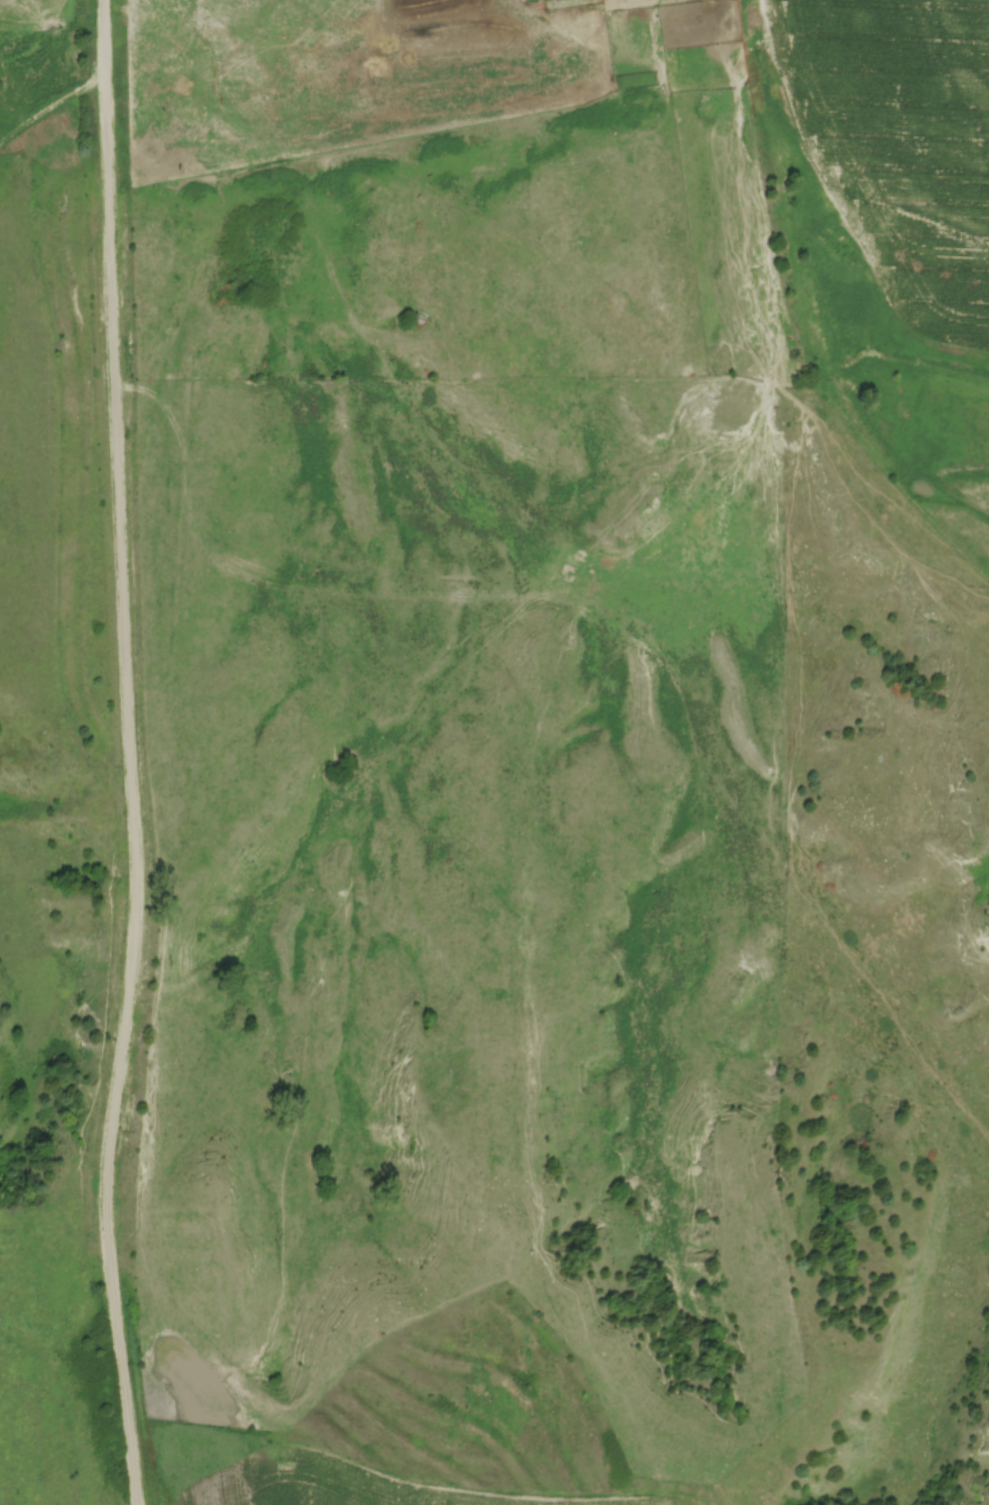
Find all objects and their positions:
building: (672, 47)
road: (131, 754)

